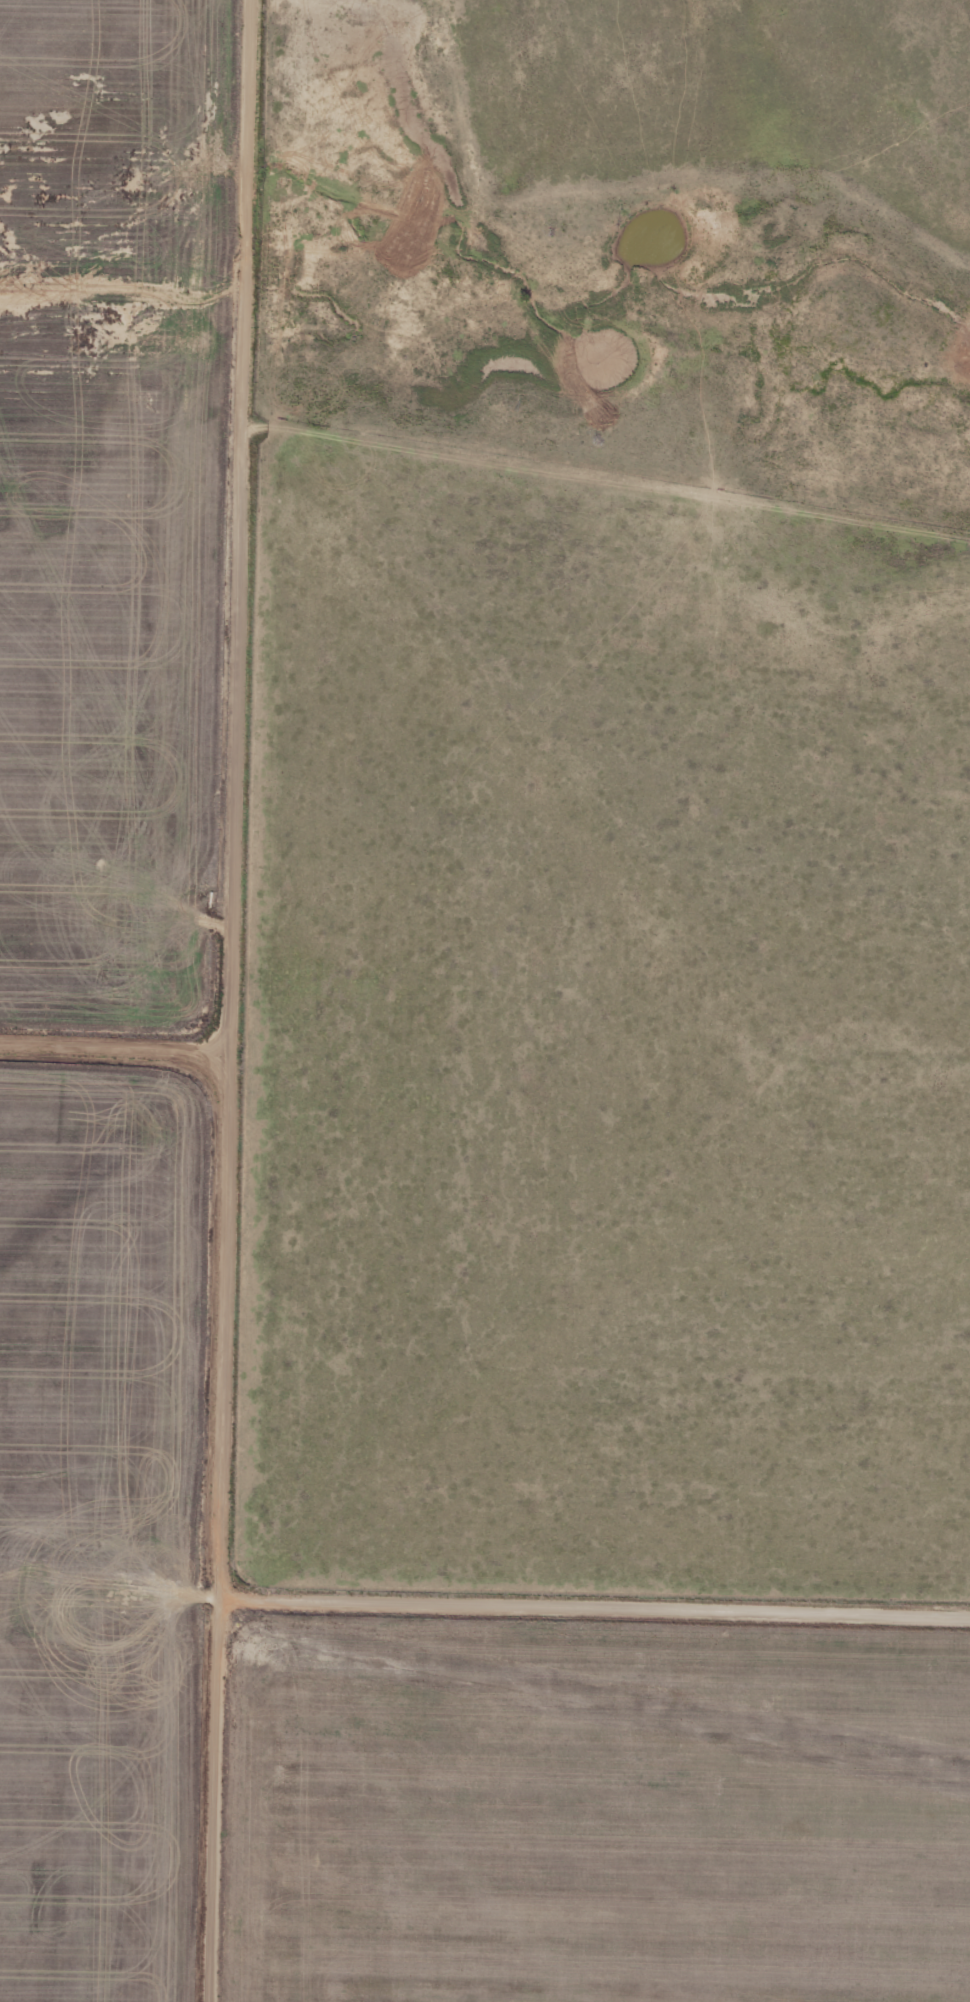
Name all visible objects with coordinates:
road: (230, 1000)
road: (115, 1044)
road: (594, 1607)

